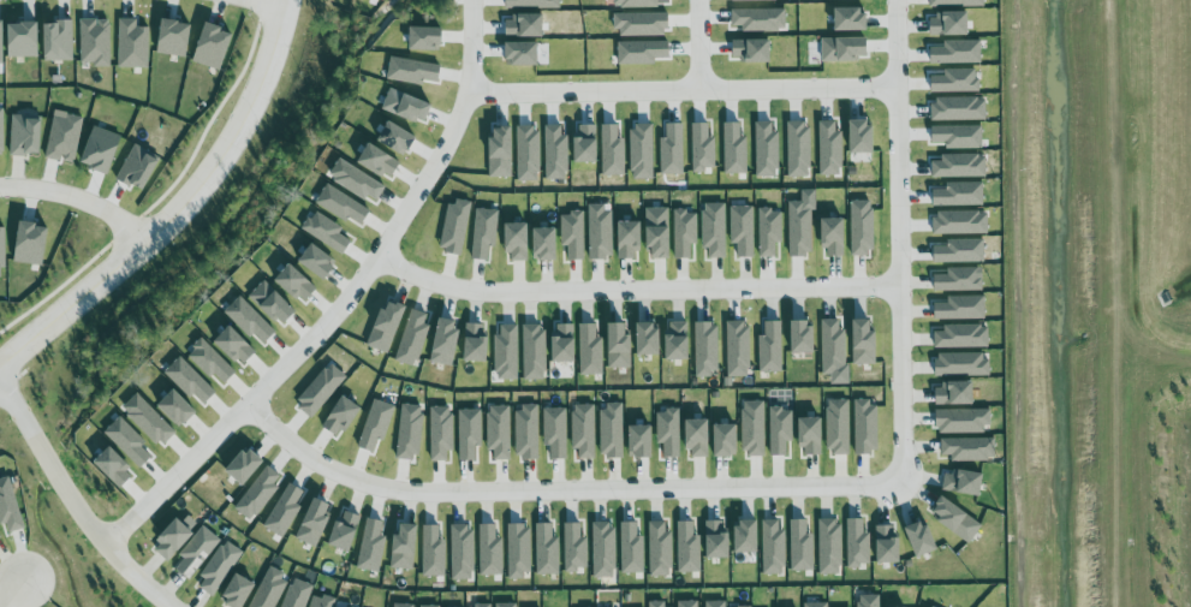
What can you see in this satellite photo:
road: (269, 2)
road: (281, 2)
building: (175, 37)
building: (24, 40)
building: (58, 41)
building: (95, 42)
building: (1, 44)
building: (133, 44)
building: (213, 46)
road: (698, 46)
road: (898, 48)
road: (782, 93)
road: (455, 127)
building: (1, 132)
building: (26, 135)
building: (65, 138)
road: (238, 141)
building: (101, 150)
road: (77, 197)
building: (343, 206)
building: (454, 227)
building: (862, 227)
building: (800, 228)
building: (714, 230)
building: (743, 230)
building: (327, 232)
building: (484, 232)
building: (601, 232)
building: (769, 232)
building: (659, 233)
building: (684, 233)
building: (573, 234)
building: (834, 237)
building: (629, 239)
building: (518, 242)
building: (31, 244)
building: (544, 244)
building: (2, 248)
building: (318, 261)
building: (959, 280)
building: (297, 284)
building: (273, 303)
road: (70, 305)
building: (961, 308)
building: (250, 321)
building: (387, 327)
building: (803, 337)
building: (961, 337)
building: (413, 338)
building: (648, 339)
building: (678, 340)
building: (445, 343)
building: (864, 343)
building: (476, 344)
building: (236, 346)
building: (619, 346)
building: (770, 347)
building: (833, 347)
building: (705, 349)
building: (738, 349)
building: (590, 350)
building: (506, 352)
building: (534, 352)
building: (564, 352)
building: (212, 363)
building: (961, 364)
building: (190, 381)
building: (317, 391)
building: (954, 394)
road: (256, 403)
building: (178, 409)
building: (340, 415)
building: (149, 419)
building: (963, 421)
building: (375, 427)
building: (838, 427)
building: (867, 428)
road: (291, 433)
building: (751, 433)
building: (779, 434)
building: (407, 435)
building: (583, 435)
building: (608, 435)
building: (525, 436)
building: (811, 436)
building: (437, 438)
building: (464, 438)
building: (552, 438)
building: (667, 438)
building: (498, 439)
building: (692, 440)
building: (129, 441)
building: (717, 442)
building: (635, 447)
building: (969, 448)
road: (264, 450)
road: (320, 452)
road: (282, 464)
building: (239, 469)
road: (361, 469)
road: (905, 470)
road: (697, 475)
road: (780, 475)
road: (614, 476)
road: (725, 476)
road: (757, 476)
road: (530, 477)
road: (586, 477)
road: (639, 477)
road: (669, 477)
road: (403, 478)
road: (558, 478)
road: (502, 480)
road: (308, 481)
road: (439, 481)
road: (465, 481)
building: (963, 482)
road: (328, 490)
building: (257, 496)
road: (71, 502)
road: (361, 504)
road: (380, 505)
building: (10, 506)
road: (631, 506)
road: (659, 507)
road: (484, 508)
road: (517, 508)
road: (544, 508)
road: (570, 508)
road: (410, 510)
road: (431, 510)
road: (601, 510)
road: (457, 511)
road: (686, 511)
building: (282, 513)
building: (957, 519)
building: (311, 523)
building: (345, 530)
building: (0, 536)
building: (746, 537)
building: (716, 540)
building: (921, 540)
building: (173, 541)
building: (858, 543)
building: (887, 544)
building: (371, 546)
building: (802, 546)
building: (829, 546)
building: (773, 547)
building: (404, 548)
building: (574, 548)
building: (687, 548)
building: (547, 549)
building: (603, 549)
building: (631, 549)
building: (660, 549)
building: (490, 551)
building: (519, 551)
building: (197, 552)
building: (433, 552)
building: (461, 552)
building: (220, 567)
building: (269, 589)
building: (239, 591)
road: (12, 594)
building: (297, 594)
building: (321, 601)
building: (868, 601)
building: (686, 603)
building: (401, 605)
building: (483, 605)
building: (505, 605)
building: (660, 605)
building: (714, 605)
building: (816, 605)
building: (429, 606)
building: (931, 606)

